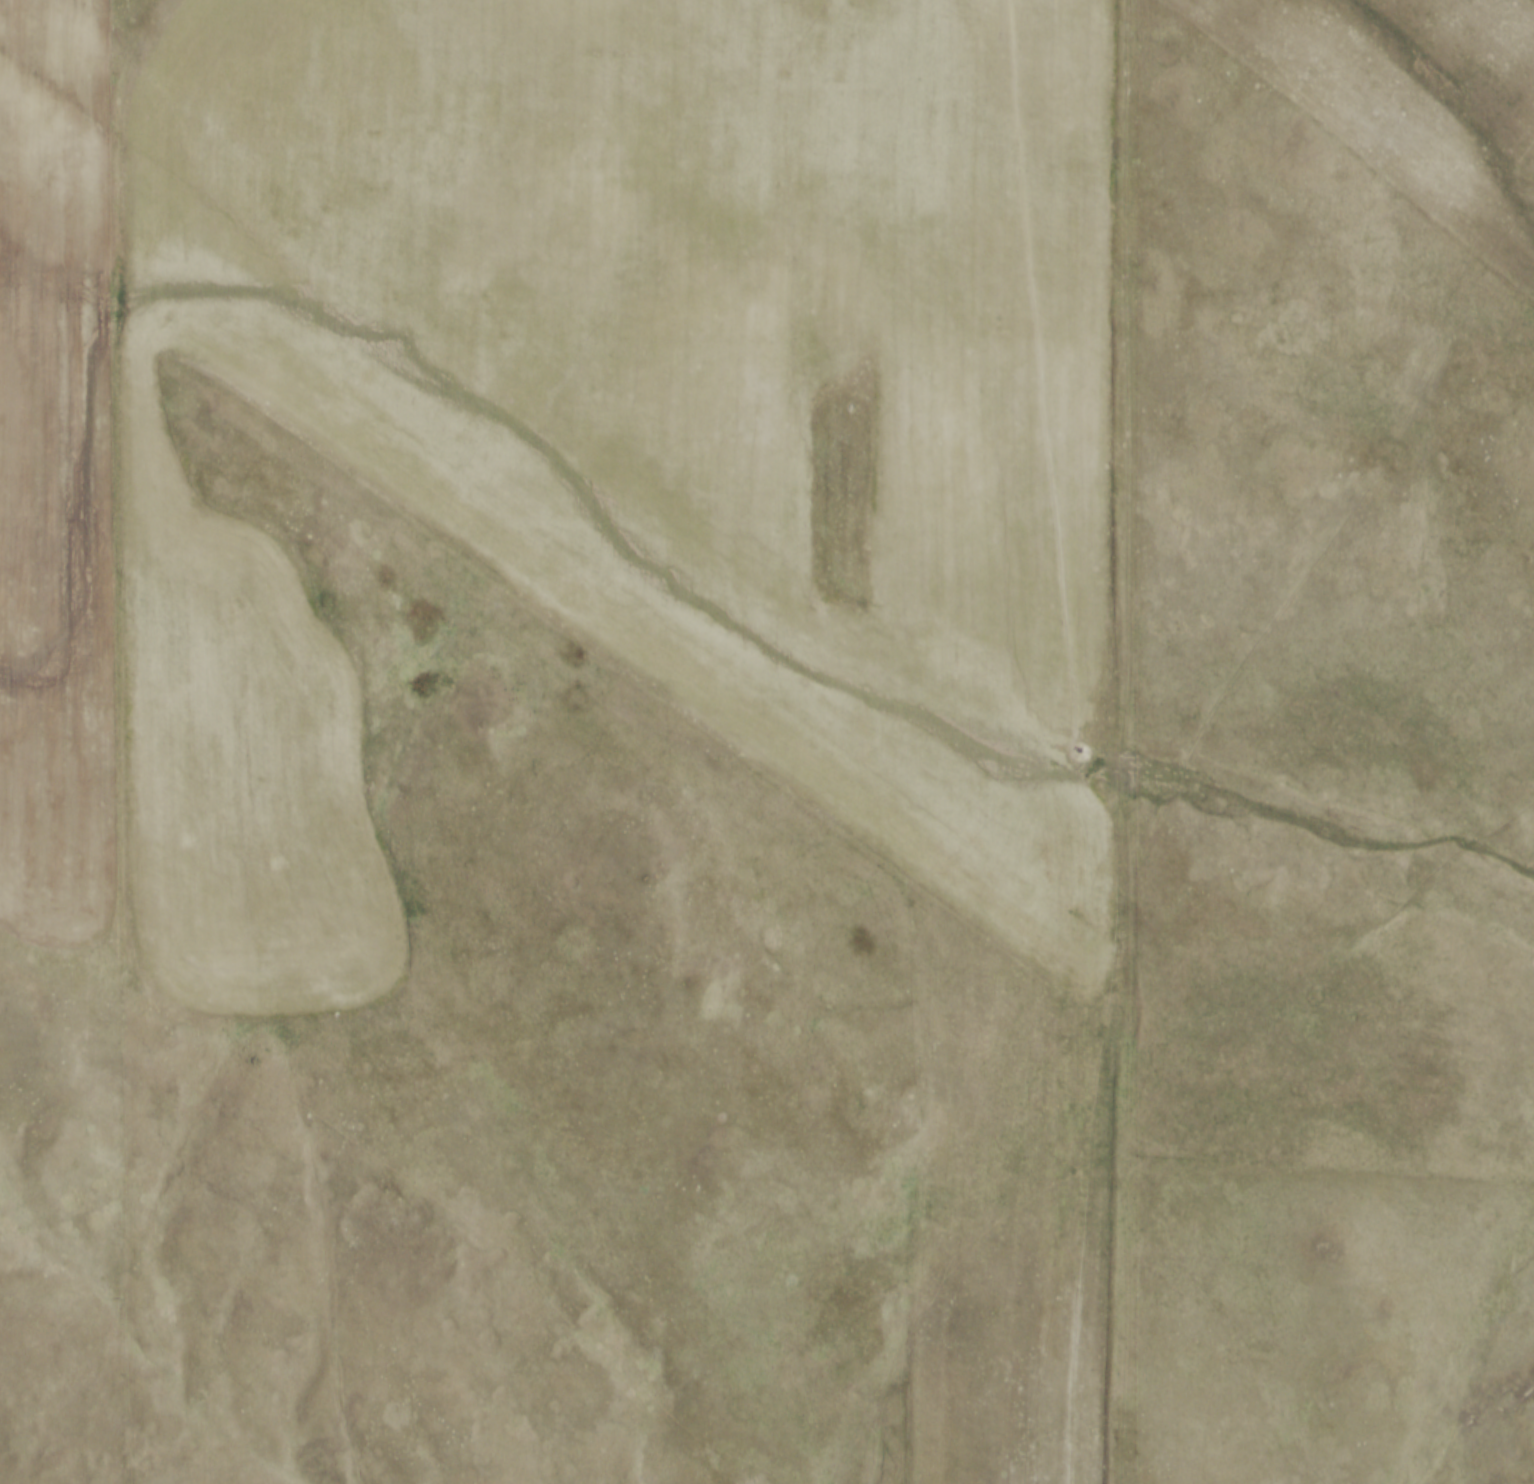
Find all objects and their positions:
road: (1125, 743)

